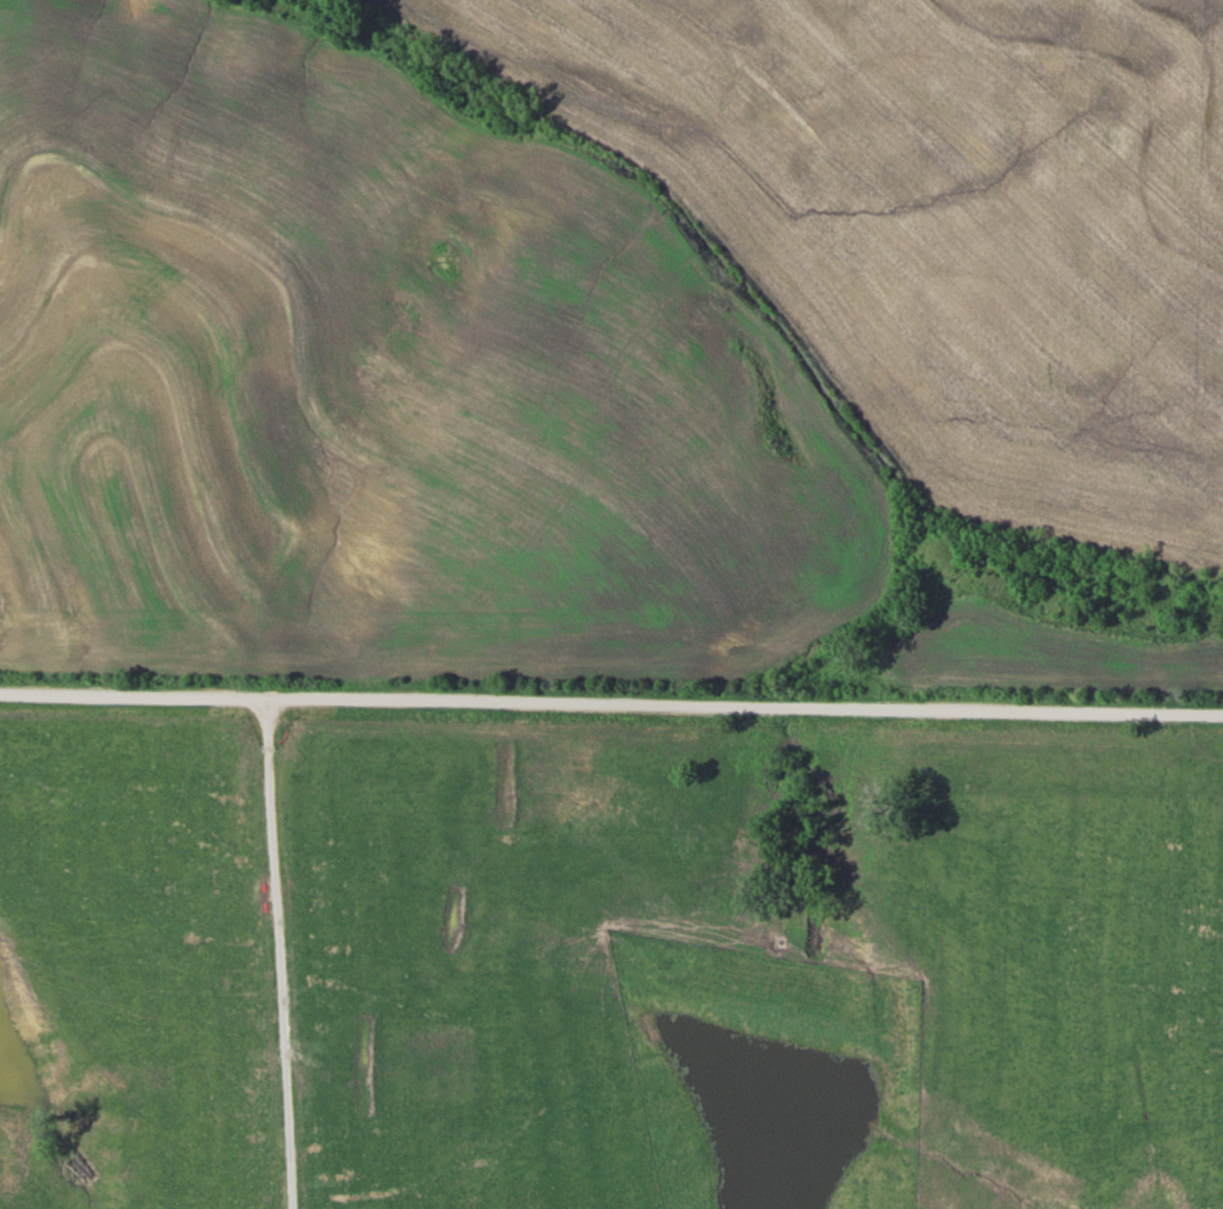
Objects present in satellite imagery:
road: (611, 720)

